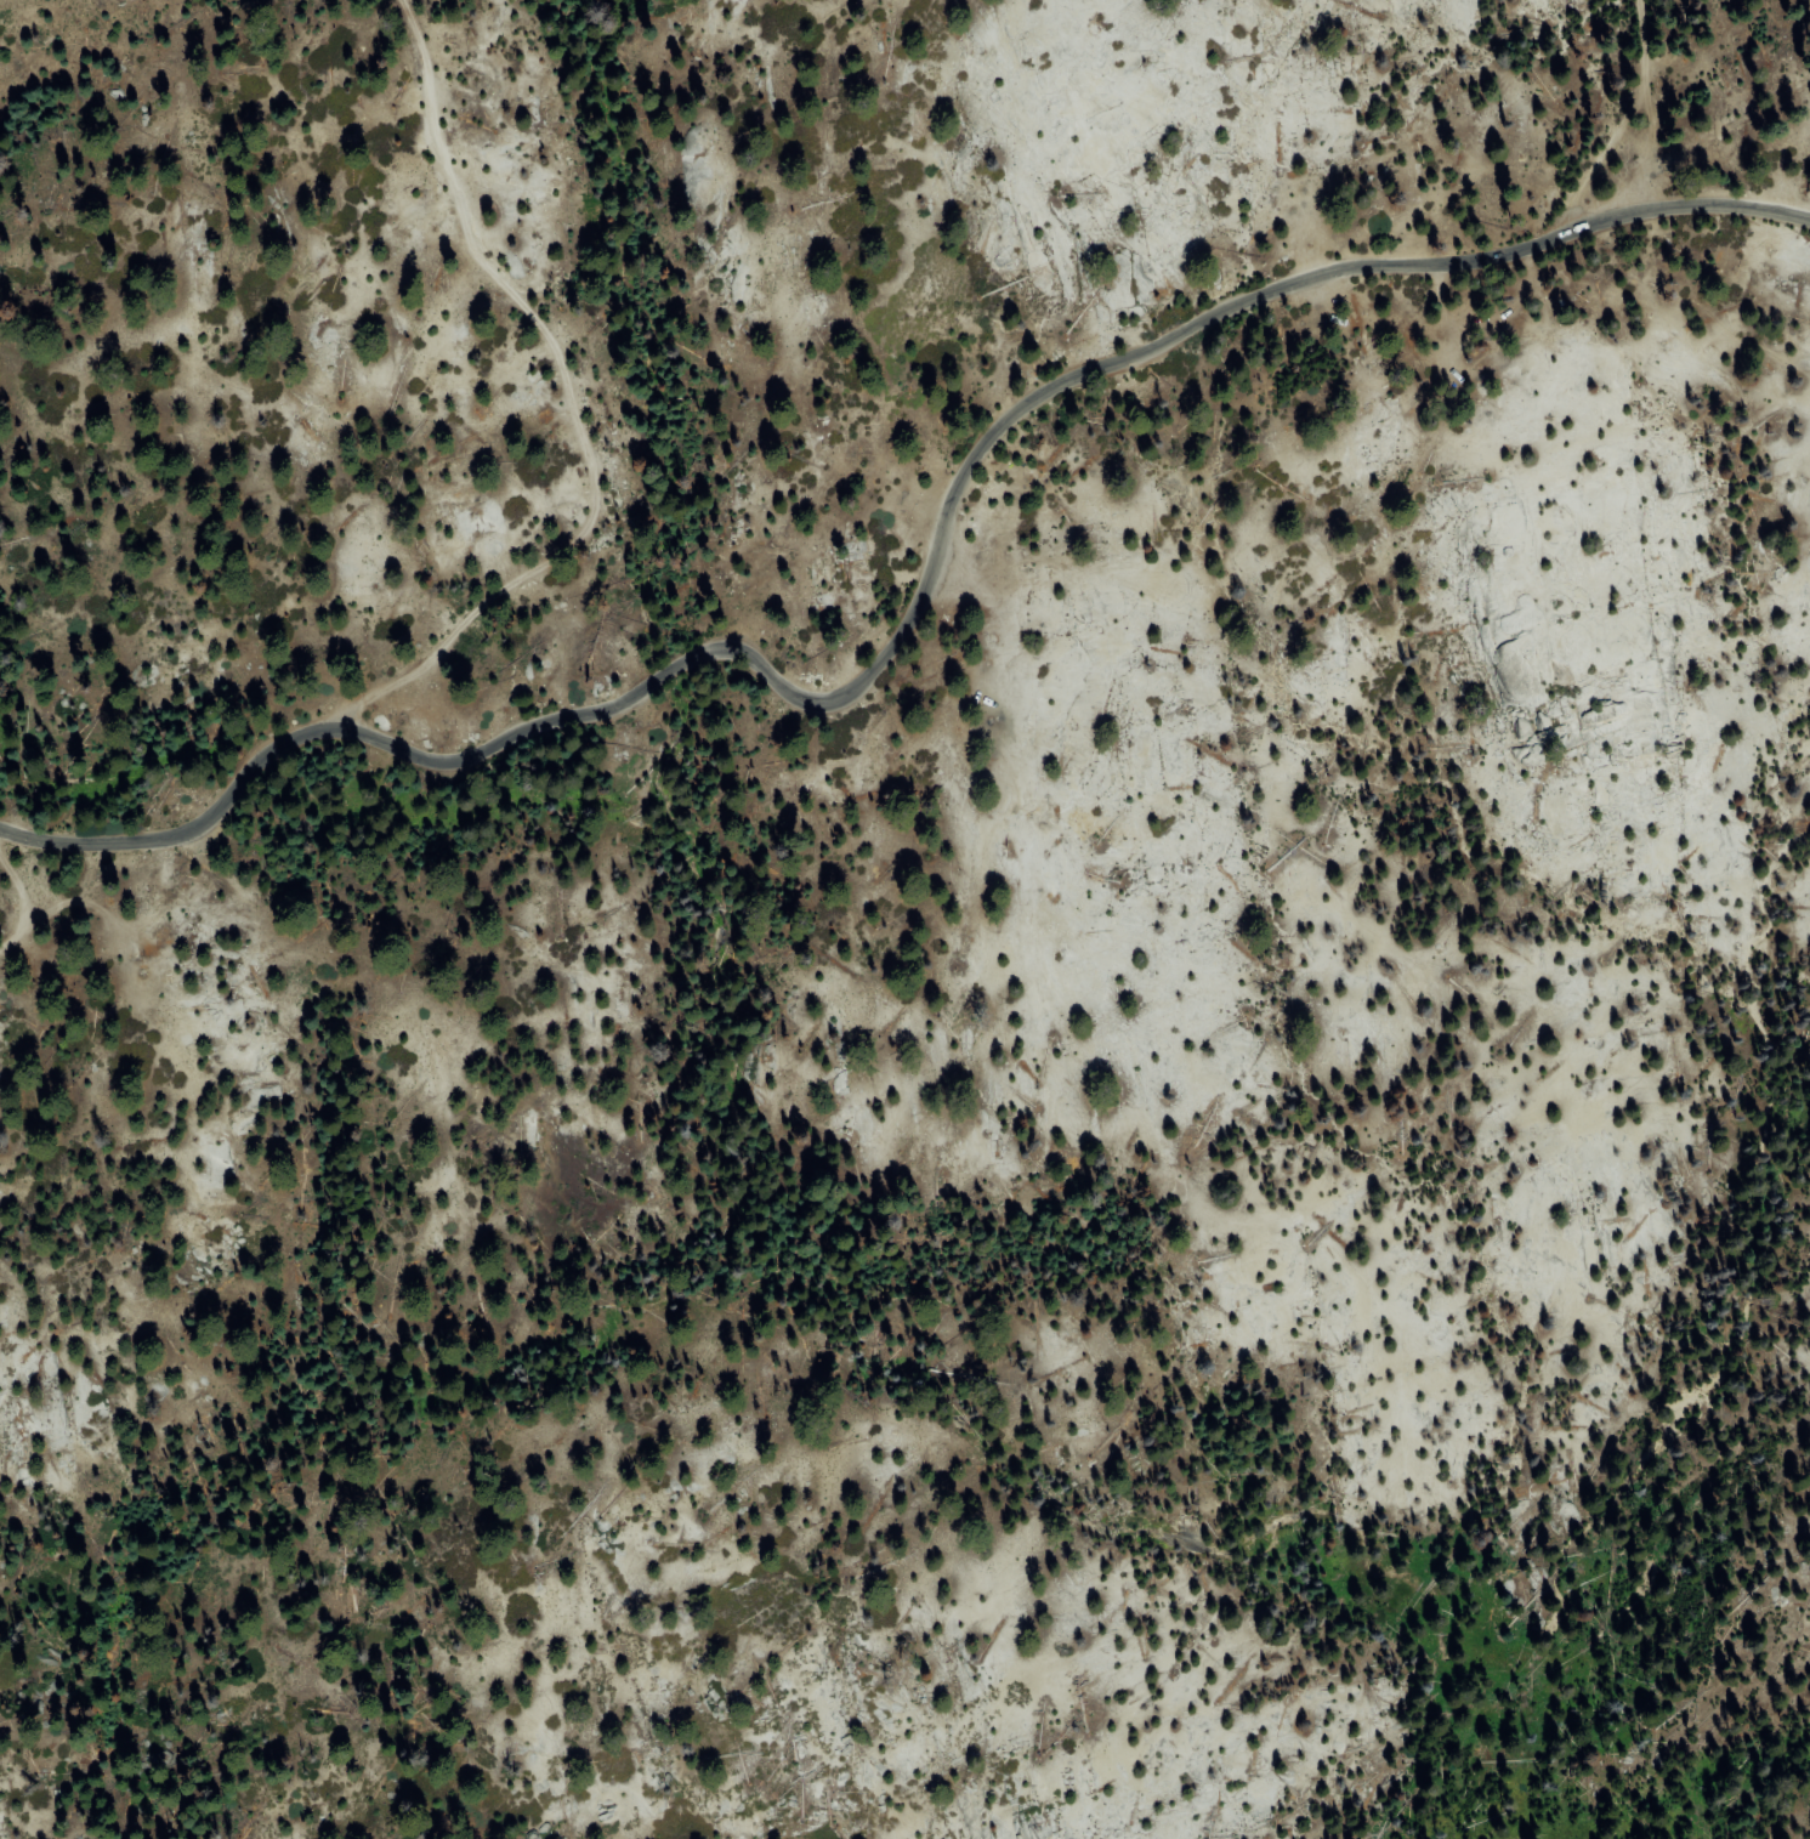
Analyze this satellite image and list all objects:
road: (574, 428)
road: (918, 602)
road: (16, 901)

